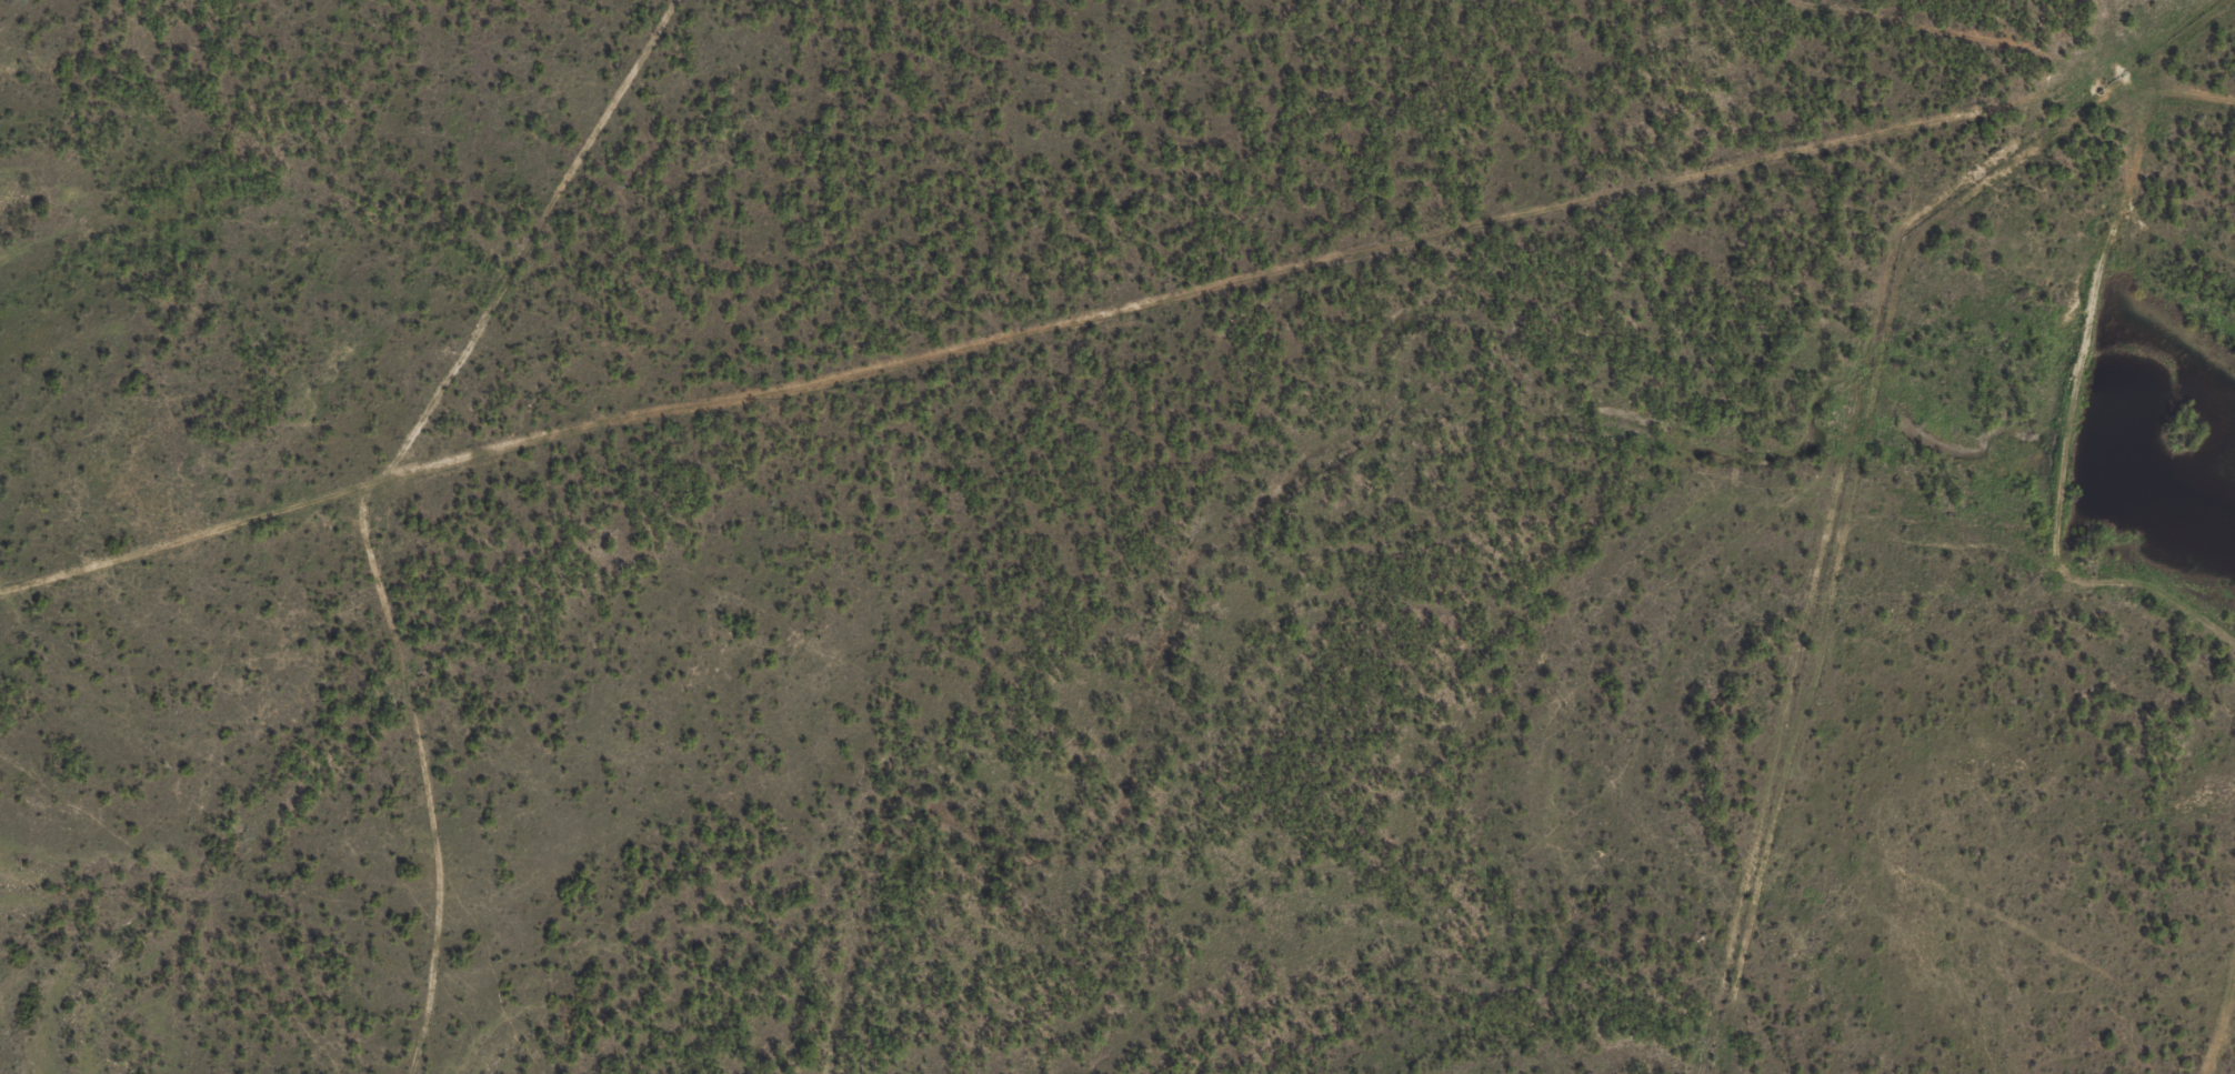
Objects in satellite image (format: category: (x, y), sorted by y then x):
road: (2217, 1018)

